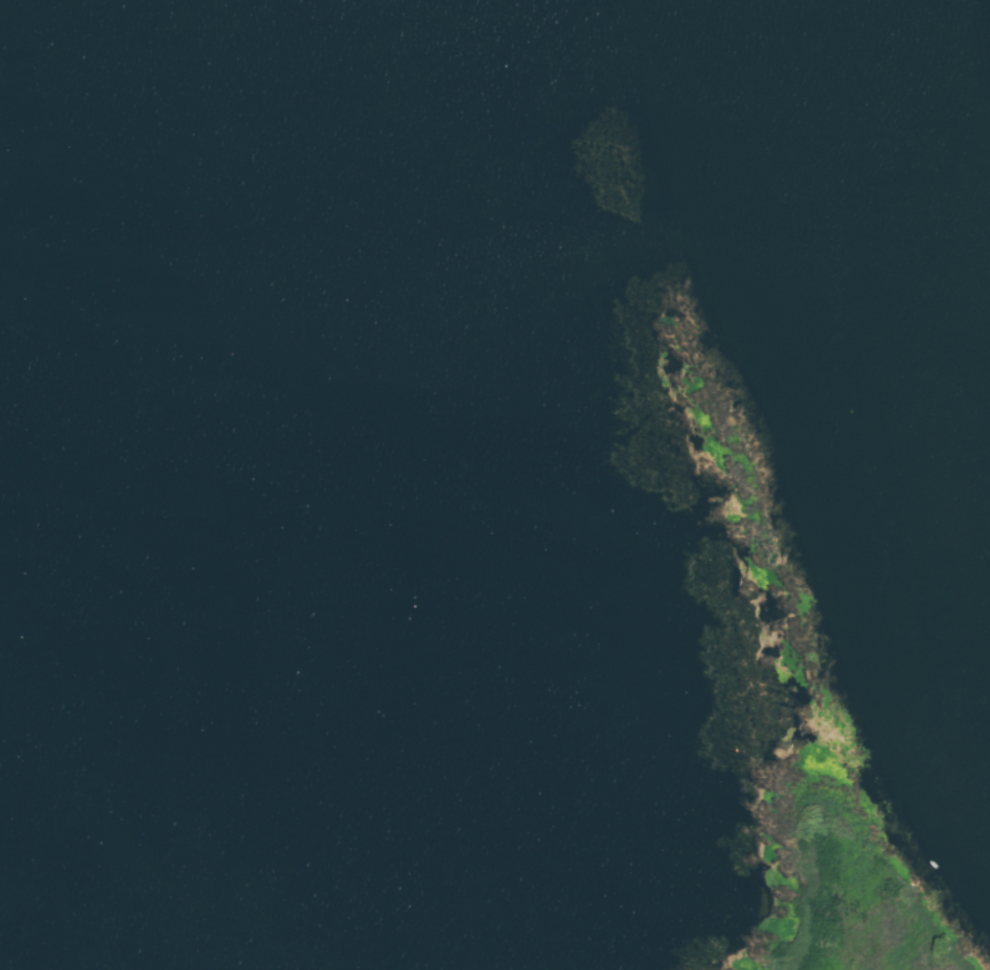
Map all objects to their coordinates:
river: (914, 218)

